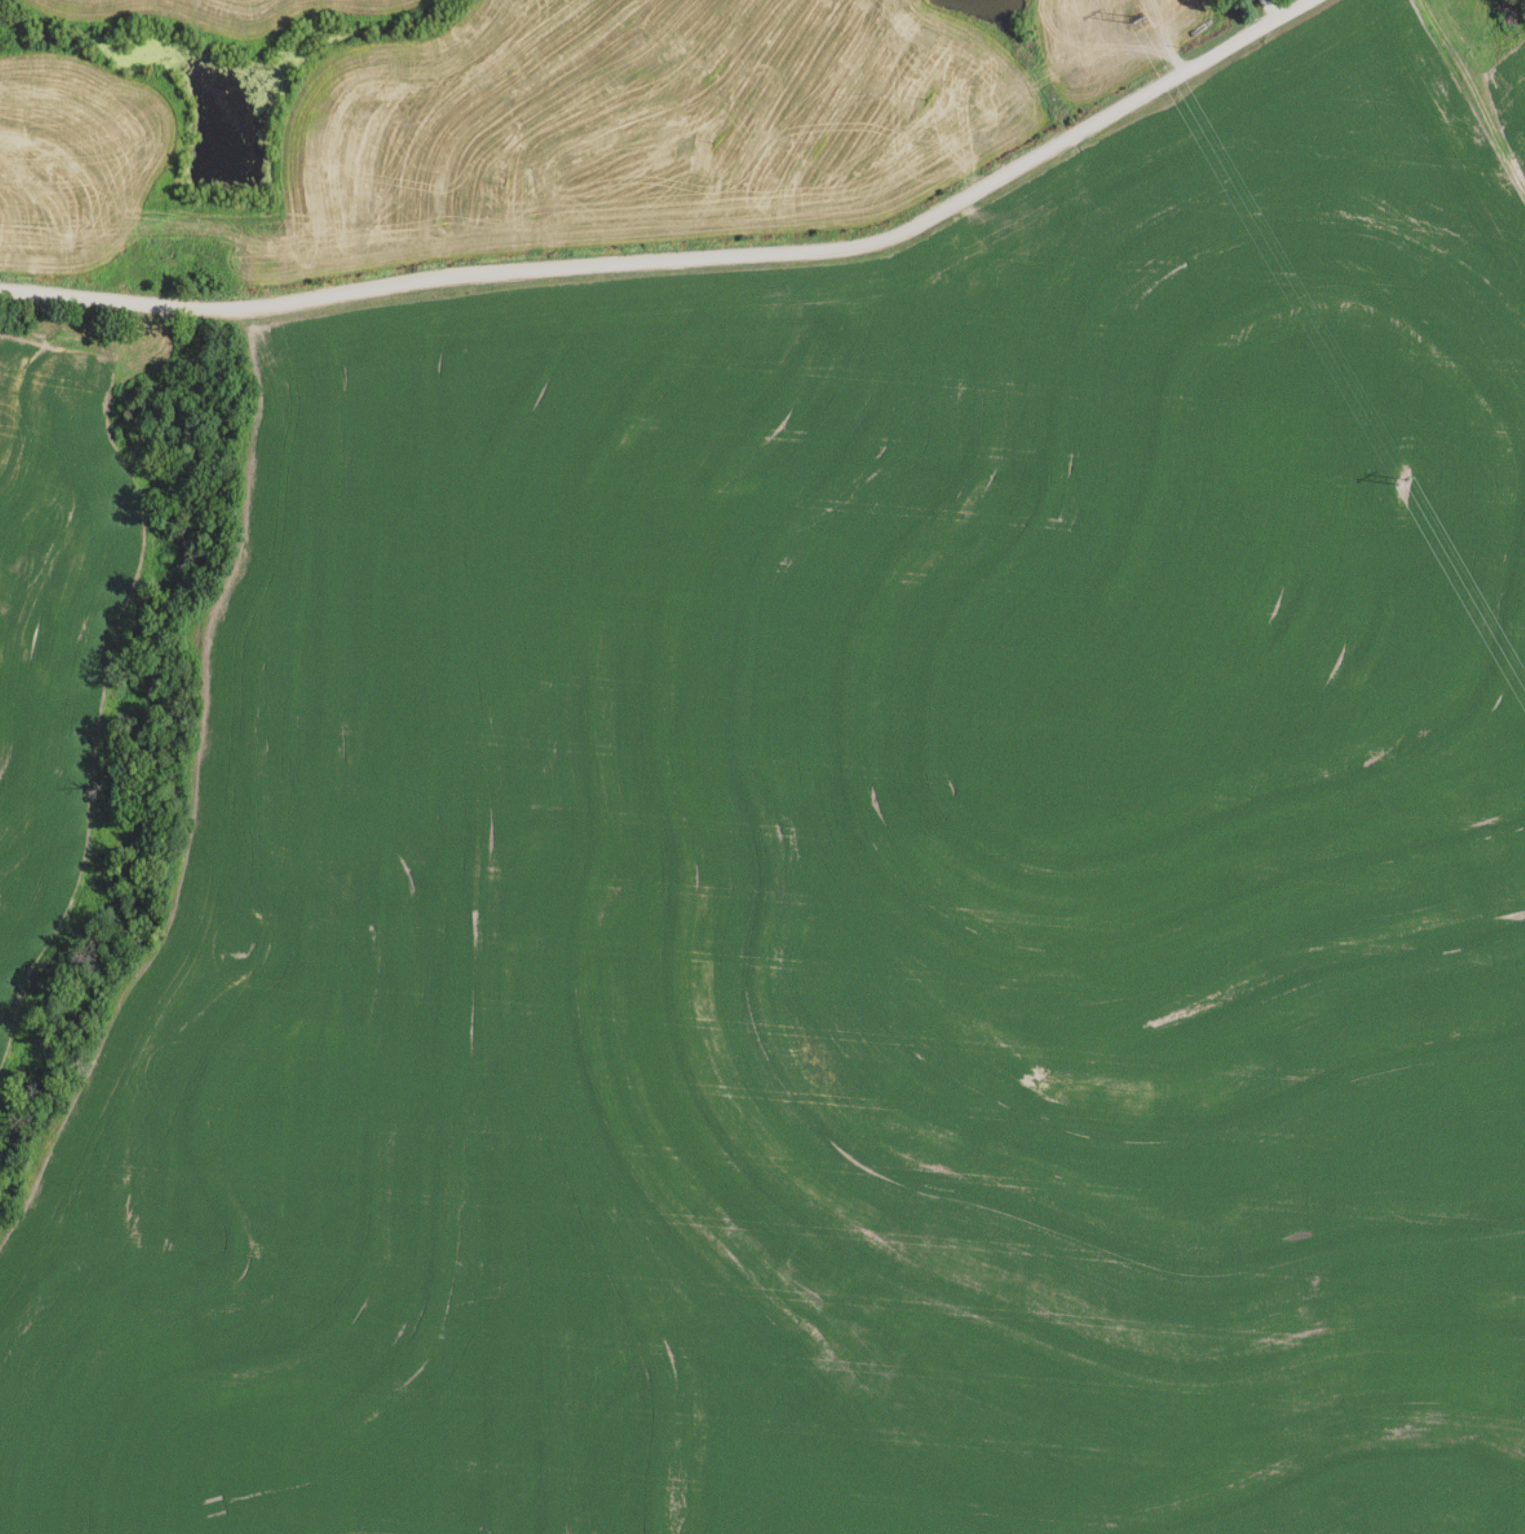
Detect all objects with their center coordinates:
road: (1264, 11)
road: (684, 260)

